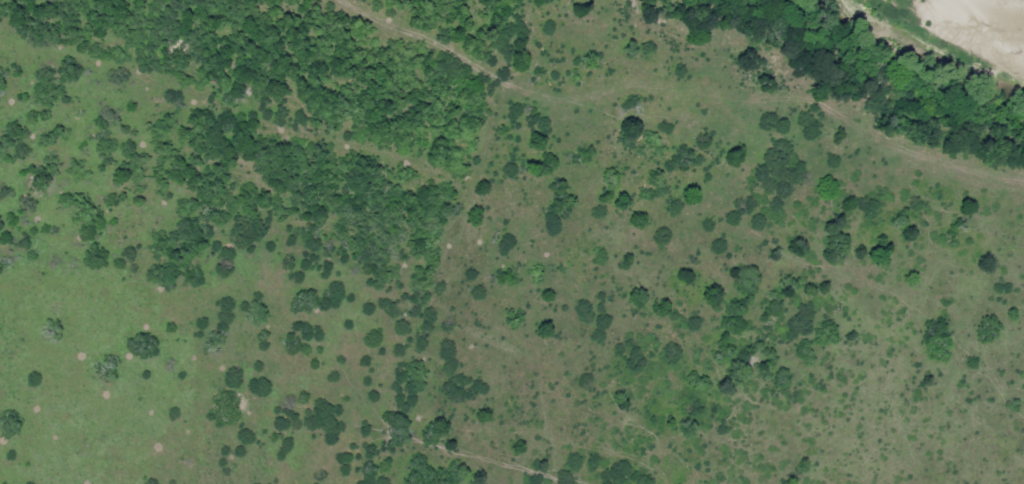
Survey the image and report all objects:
road: (490, 154)
road: (433, 319)

